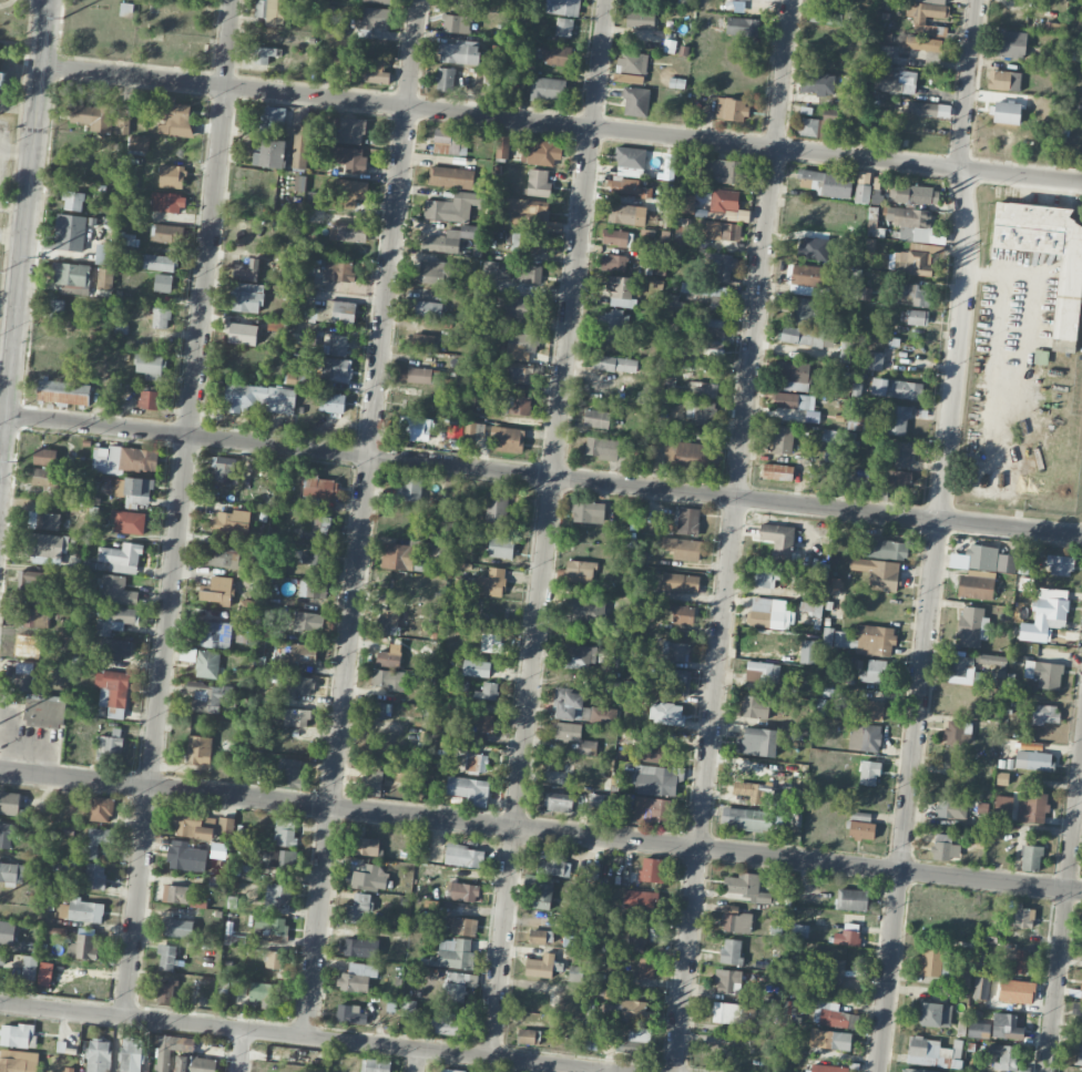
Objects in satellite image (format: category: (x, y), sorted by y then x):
building: (378, 1)
building: (933, 1)
building: (463, 3)
building: (562, 7)
building: (126, 9)
building: (270, 11)
power tower: (63, 13)
building: (825, 17)
building: (375, 18)
building: (640, 19)
building: (919, 21)
building: (457, 23)
building: (741, 25)
building: (337, 27)
building: (563, 27)
building: (925, 43)
building: (1010, 44)
building: (458, 52)
building: (263, 53)
building: (888, 53)
building: (557, 54)
building: (632, 62)
building: (368, 71)
building: (627, 78)
building: (445, 79)
building: (1003, 80)
building: (897, 82)
building: (816, 83)
building: (548, 89)
building: (635, 101)
building: (123, 108)
building: (732, 109)
building: (928, 109)
building: (1006, 112)
building: (92, 115)
building: (173, 116)
building: (272, 120)
road: (561, 123)
building: (813, 126)
building: (351, 130)
building: (447, 141)
building: (137, 143)
building: (300, 146)
building: (502, 146)
road: (0, 149)
road: (16, 149)
building: (268, 152)
building: (537, 152)
building: (557, 154)
building: (347, 157)
building: (629, 161)
building: (724, 171)
building: (172, 176)
building: (450, 177)
building: (538, 182)
building: (826, 183)
building: (629, 186)
building: (348, 192)
building: (861, 193)
building: (913, 195)
building: (724, 200)
building: (73, 201)
building: (167, 202)
building: (685, 203)
building: (453, 207)
building: (529, 214)
building: (625, 214)
building: (910, 222)
building: (871, 223)
building: (683, 227)
building: (718, 229)
building: (347, 231)
building: (68, 233)
road: (23, 234)
building: (167, 234)
road: (11, 236)
building: (616, 237)
building: (127, 238)
building: (448, 239)
building: (531, 243)
building: (1047, 252)
building: (104, 254)
power tower: (38, 257)
building: (913, 259)
building: (613, 262)
building: (160, 263)
building: (719, 266)
building: (246, 270)
building: (339, 270)
building: (437, 272)
building: (529, 273)
building: (808, 275)
building: (71, 277)
building: (104, 278)
building: (163, 283)
building: (621, 290)
building: (916, 293)
building: (706, 295)
building: (246, 297)
building: (525, 306)
building: (55, 308)
building: (428, 308)
building: (799, 309)
building: (160, 317)
building: (917, 317)
building: (612, 319)
building: (274, 324)
building: (714, 327)
building: (238, 331)
building: (802, 336)
building: (828, 338)
building: (422, 341)
building: (336, 345)
building: (520, 345)
building: (713, 349)
building: (845, 351)
building: (874, 360)
building: (615, 364)
building: (150, 366)
building: (334, 368)
building: (419, 374)
building: (518, 375)
building: (794, 376)
building: (897, 388)
building: (703, 389)
building: (63, 391)
building: (258, 398)
building: (149, 399)
building: (792, 400)
building: (331, 402)
building: (520, 405)
building: (700, 411)
building: (596, 418)
building: (896, 419)
building: (856, 422)
building: (414, 428)
building: (474, 429)
building: (453, 430)
building: (508, 439)
building: (782, 439)
building: (602, 447)
road: (1, 448)
building: (902, 453)
building: (44, 457)
building: (694, 457)
power tower: (17, 458)
building: (123, 459)
building: (223, 466)
building: (777, 471)
road: (543, 474)
building: (49, 480)
building: (896, 480)
building: (859, 481)
building: (319, 487)
building: (411, 488)
building: (134, 491)
road: (178, 508)
building: (496, 508)
building: (588, 511)
road: (363, 517)
building: (43, 520)
building: (129, 521)
building: (687, 521)
building: (231, 522)
building: (321, 524)
road: (548, 528)
road: (732, 535)
road: (937, 535)
building: (777, 538)
building: (44, 545)
building: (500, 547)
building: (682, 548)
building: (887, 549)
building: (433, 550)
building: (224, 557)
building: (314, 557)
building: (397, 557)
building: (981, 557)
building: (121, 558)
building: (1006, 562)
building: (1060, 564)
building: (580, 570)
building: (878, 572)
building: (766, 575)
building: (33, 580)
building: (681, 582)
building: (491, 583)
building: (976, 585)
building: (313, 588)
building: (116, 590)
building: (217, 591)
building: (810, 608)
building: (769, 613)
building: (683, 614)
building: (1045, 614)
building: (34, 617)
building: (115, 621)
building: (308, 621)
building: (388, 621)
building: (972, 626)
building: (214, 633)
building: (844, 640)
building: (876, 640)
building: (115, 649)
building: (675, 651)
building: (303, 653)
building: (578, 655)
building: (389, 656)
building: (993, 657)
building: (206, 664)
building: (959, 665)
building: (477, 668)
building: (762, 672)
building: (874, 672)
building: (1044, 673)
building: (25, 676)
building: (387, 680)
building: (676, 680)
building: (295, 684)
building: (487, 691)
building: (112, 692)
building: (210, 696)
building: (755, 707)
building: (580, 708)
building: (670, 709)
building: (872, 709)
building: (44, 711)
building: (378, 711)
building: (1044, 714)
building: (295, 716)
building: (484, 723)
building: (565, 731)
building: (956, 733)
building: (865, 736)
building: (757, 742)
building: (110, 746)
building: (586, 747)
building: (198, 749)
building: (666, 754)
building: (1032, 760)
building: (476, 762)
building: (290, 773)
building: (869, 773)
building: (653, 779)
building: (371, 784)
building: (469, 789)
building: (752, 792)
building: (596, 800)
building: (559, 802)
building: (9, 803)
building: (1003, 807)
building: (1031, 807)
building: (101, 808)
building: (951, 808)
building: (652, 809)
building: (860, 816)
building: (185, 823)
building: (226, 825)
road: (541, 828)
building: (861, 830)
building: (284, 831)
building: (204, 833)
building: (8, 834)
building: (96, 840)
building: (366, 846)
building: (945, 847)
building: (182, 855)
building: (463, 856)
building: (1031, 857)
building: (283, 858)
building: (552, 864)
building: (651, 869)
building: (593, 870)
building: (11, 872)
building: (94, 876)
building: (368, 878)
building: (746, 887)
building: (462, 891)
building: (176, 894)
building: (542, 894)
building: (277, 898)
building: (641, 899)
building: (851, 899)
building: (358, 907)
road: (1064, 908)
building: (82, 910)
building: (1020, 917)
building: (735, 919)
building: (272, 925)
building: (463, 926)
building: (177, 928)
building: (7, 933)
building: (538, 937)
building: (846, 937)
building: (636, 939)
building: (83, 947)
building: (360, 948)
building: (731, 951)
building: (453, 953)
building: (166, 957)
building: (2, 959)
building: (272, 959)
building: (931, 961)
building: (1018, 961)
building: (540, 966)
building: (29, 967)
building: (645, 968)
building: (830, 969)
building: (575, 973)
building: (357, 977)
building: (966, 977)
building: (726, 980)
building: (458, 984)
building: (1081, 986)
building: (981, 987)
building: (165, 991)
building: (1017, 991)
building: (263, 992)
building: (408, 1008)
building: (632, 1010)
building: (726, 1012)
building: (349, 1013)
building: (1076, 1013)
building: (831, 1014)
building: (936, 1014)
building: (447, 1023)
building: (1006, 1027)
building: (978, 1030)
building: (18, 1035)
building: (527, 1035)
road: (321, 1037)
building: (830, 1039)
building: (636, 1041)
road: (238, 1050)
building: (928, 1052)
building: (131, 1054)
building: (1078, 1054)
building: (99, 1055)
building: (1004, 1056)
road: (416, 1060)
building: (18, 1061)
building: (162, 1061)
building: (194, 1064)
building: (375, 1065)
road: (592, 1069)
building: (828, 1069)
building: (450, 1070)
building: (919, 1070)

